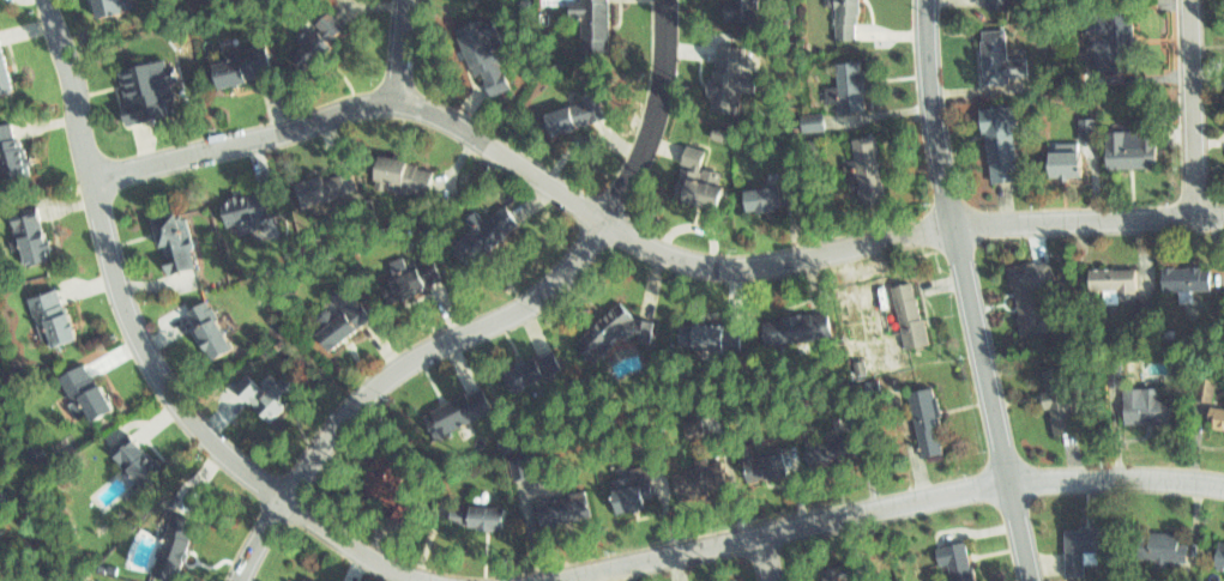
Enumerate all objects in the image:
building: (103, 5)
building: (996, 7)
building: (738, 8)
building: (840, 19)
building: (591, 22)
building: (319, 28)
building: (1107, 40)
building: (313, 48)
road: (398, 53)
building: (483, 56)
building: (999, 58)
building: (240, 63)
building: (725, 68)
building: (4, 69)
building: (845, 83)
building: (145, 89)
building: (577, 109)
road: (1193, 109)
building: (808, 120)
building: (1081, 125)
building: (996, 144)
building: (1124, 144)
building: (10, 145)
building: (1057, 157)
building: (864, 163)
building: (850, 169)
building: (402, 171)
building: (694, 171)
building: (321, 184)
building: (773, 190)
building: (252, 208)
building: (28, 230)
building: (488, 234)
building: (173, 240)
road: (635, 240)
building: (1183, 274)
building: (1109, 277)
building: (411, 279)
road: (967, 291)
building: (1029, 292)
building: (1144, 307)
building: (912, 316)
building: (52, 317)
building: (342, 319)
road: (499, 319)
building: (789, 326)
building: (207, 327)
building: (614, 328)
building: (704, 337)
road: (140, 355)
building: (1110, 369)
building: (529, 370)
building: (1206, 388)
building: (82, 391)
building: (264, 393)
building: (1055, 400)
building: (1141, 403)
building: (456, 412)
building: (1210, 417)
building: (922, 420)
building: (691, 425)
building: (848, 448)
building: (36, 449)
building: (129, 452)
building: (773, 458)
building: (523, 467)
building: (695, 476)
building: (384, 479)
building: (629, 489)
building: (560, 506)
road: (878, 508)
building: (474, 515)
building: (169, 544)
building: (1159, 545)
building: (1077, 546)
building: (1217, 553)
road: (762, 558)
building: (951, 558)
building: (838, 570)
building: (309, 577)

